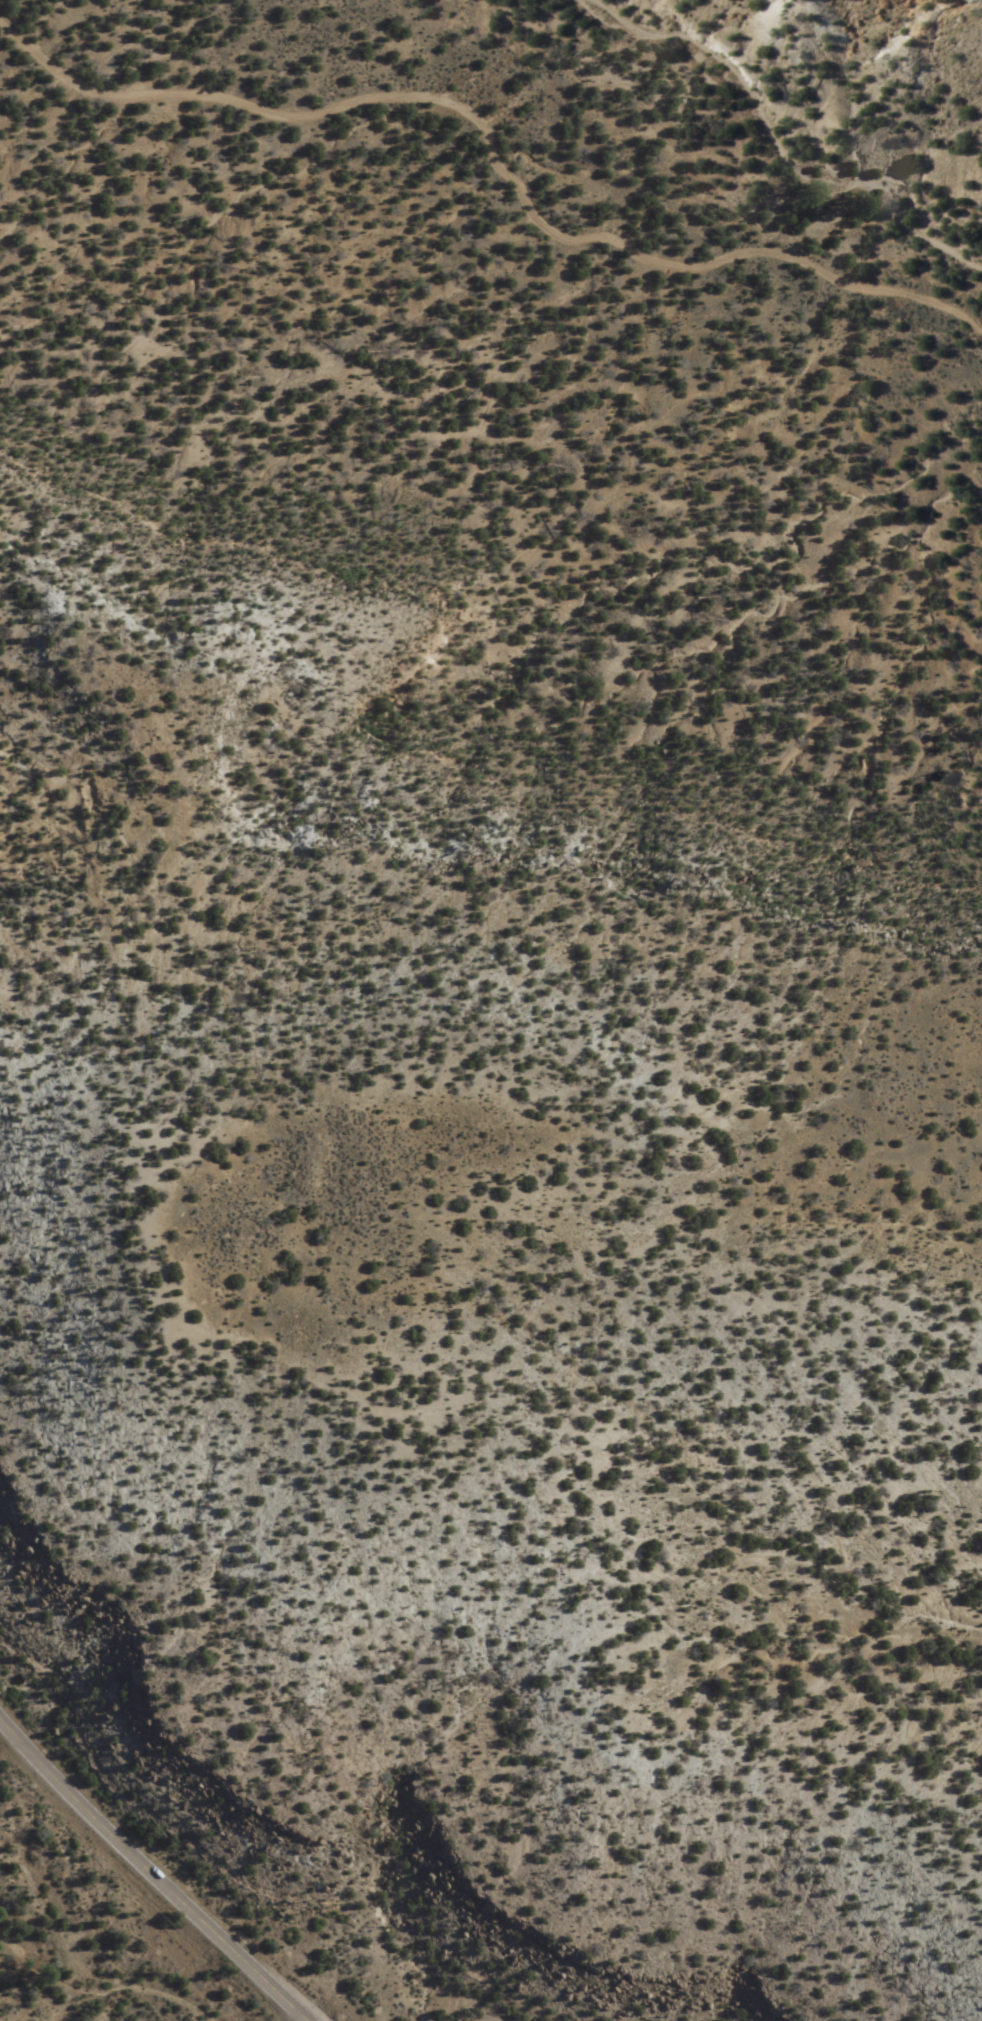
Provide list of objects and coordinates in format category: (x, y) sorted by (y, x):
road: (492, 159)
road: (148, 1875)

